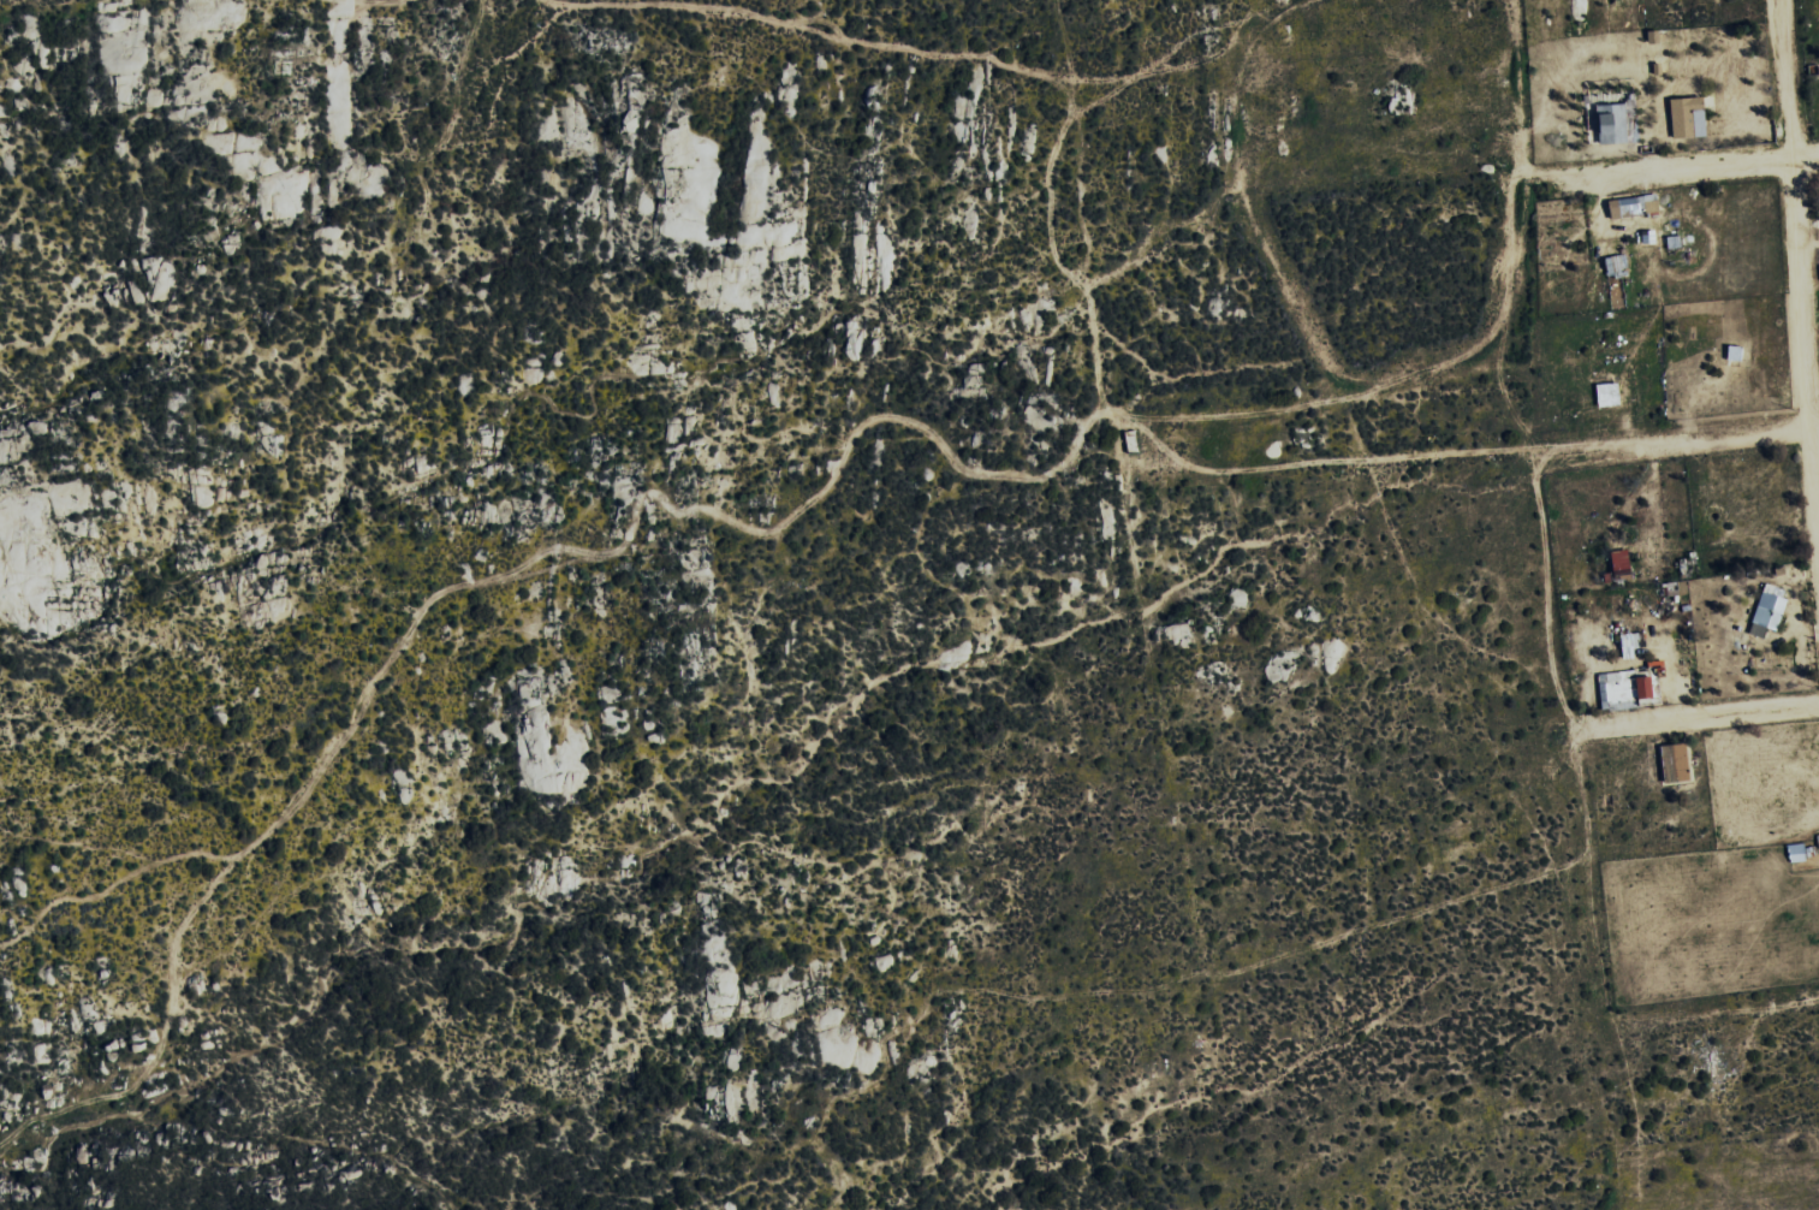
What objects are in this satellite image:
building: (1689, 117)
building: (1613, 124)
road: (1677, 166)
building: (1634, 206)
building: (1674, 242)
road: (1797, 263)
road: (1502, 308)
road: (1675, 435)
road: (1362, 461)
road: (1542, 592)
road: (1698, 716)

